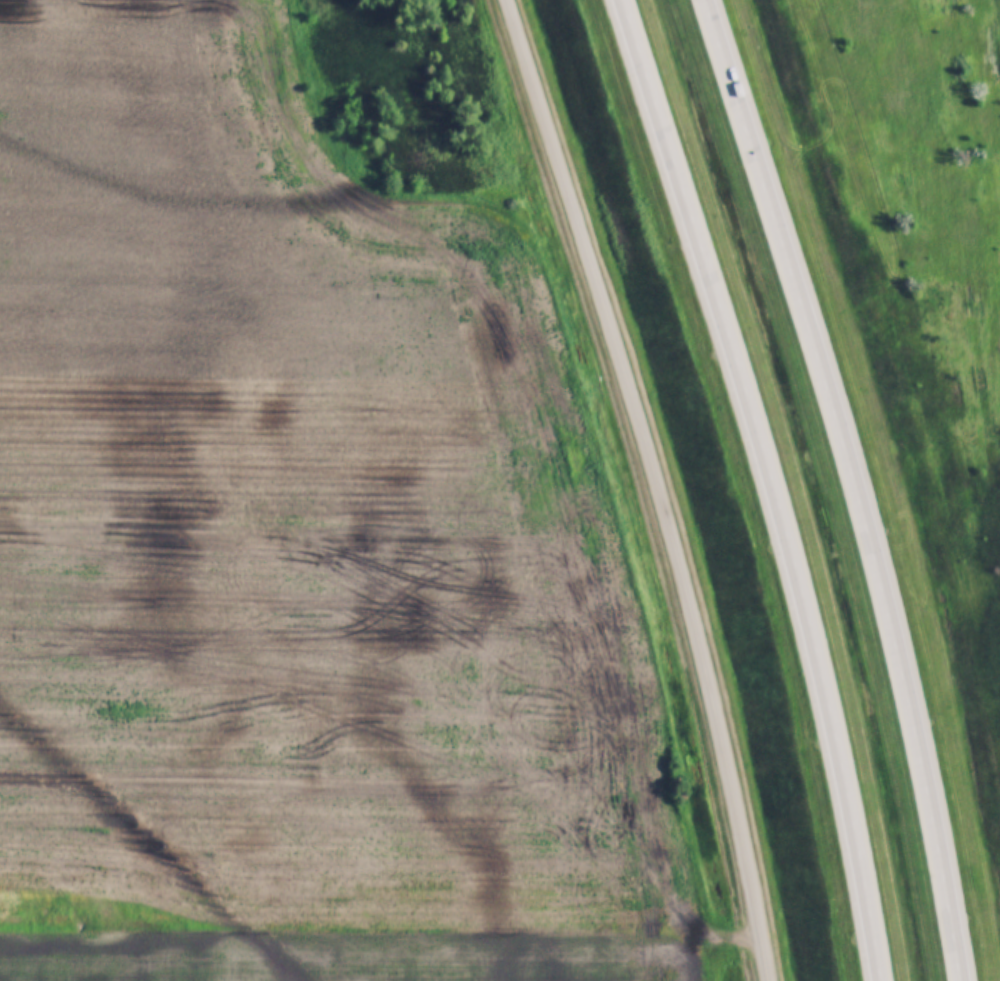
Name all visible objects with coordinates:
road: (655, 485)
road: (770, 485)
road: (852, 485)
crop: (294, 494)
crop: (352, 931)

